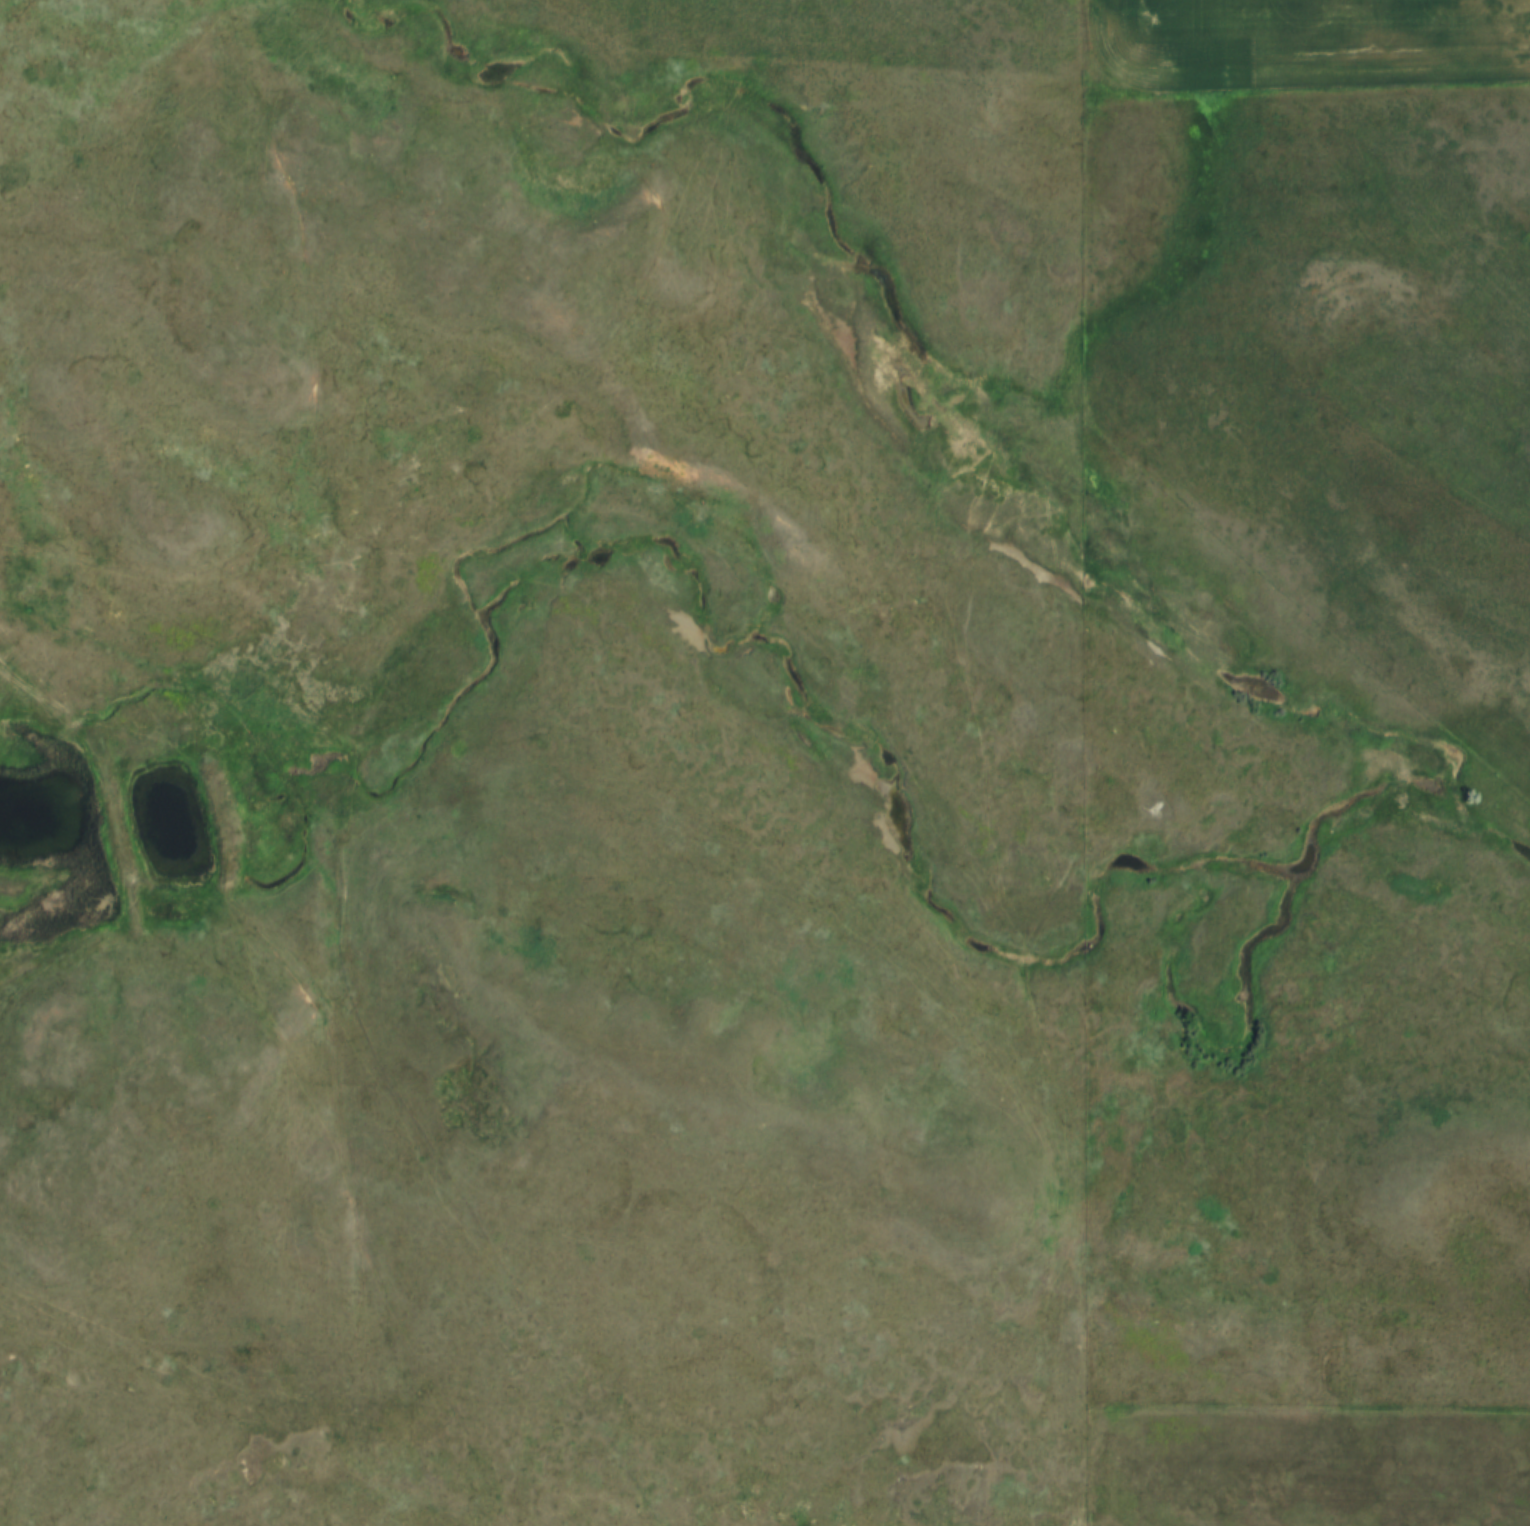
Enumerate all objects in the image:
road: (1154, 70)
road: (1317, 1415)

